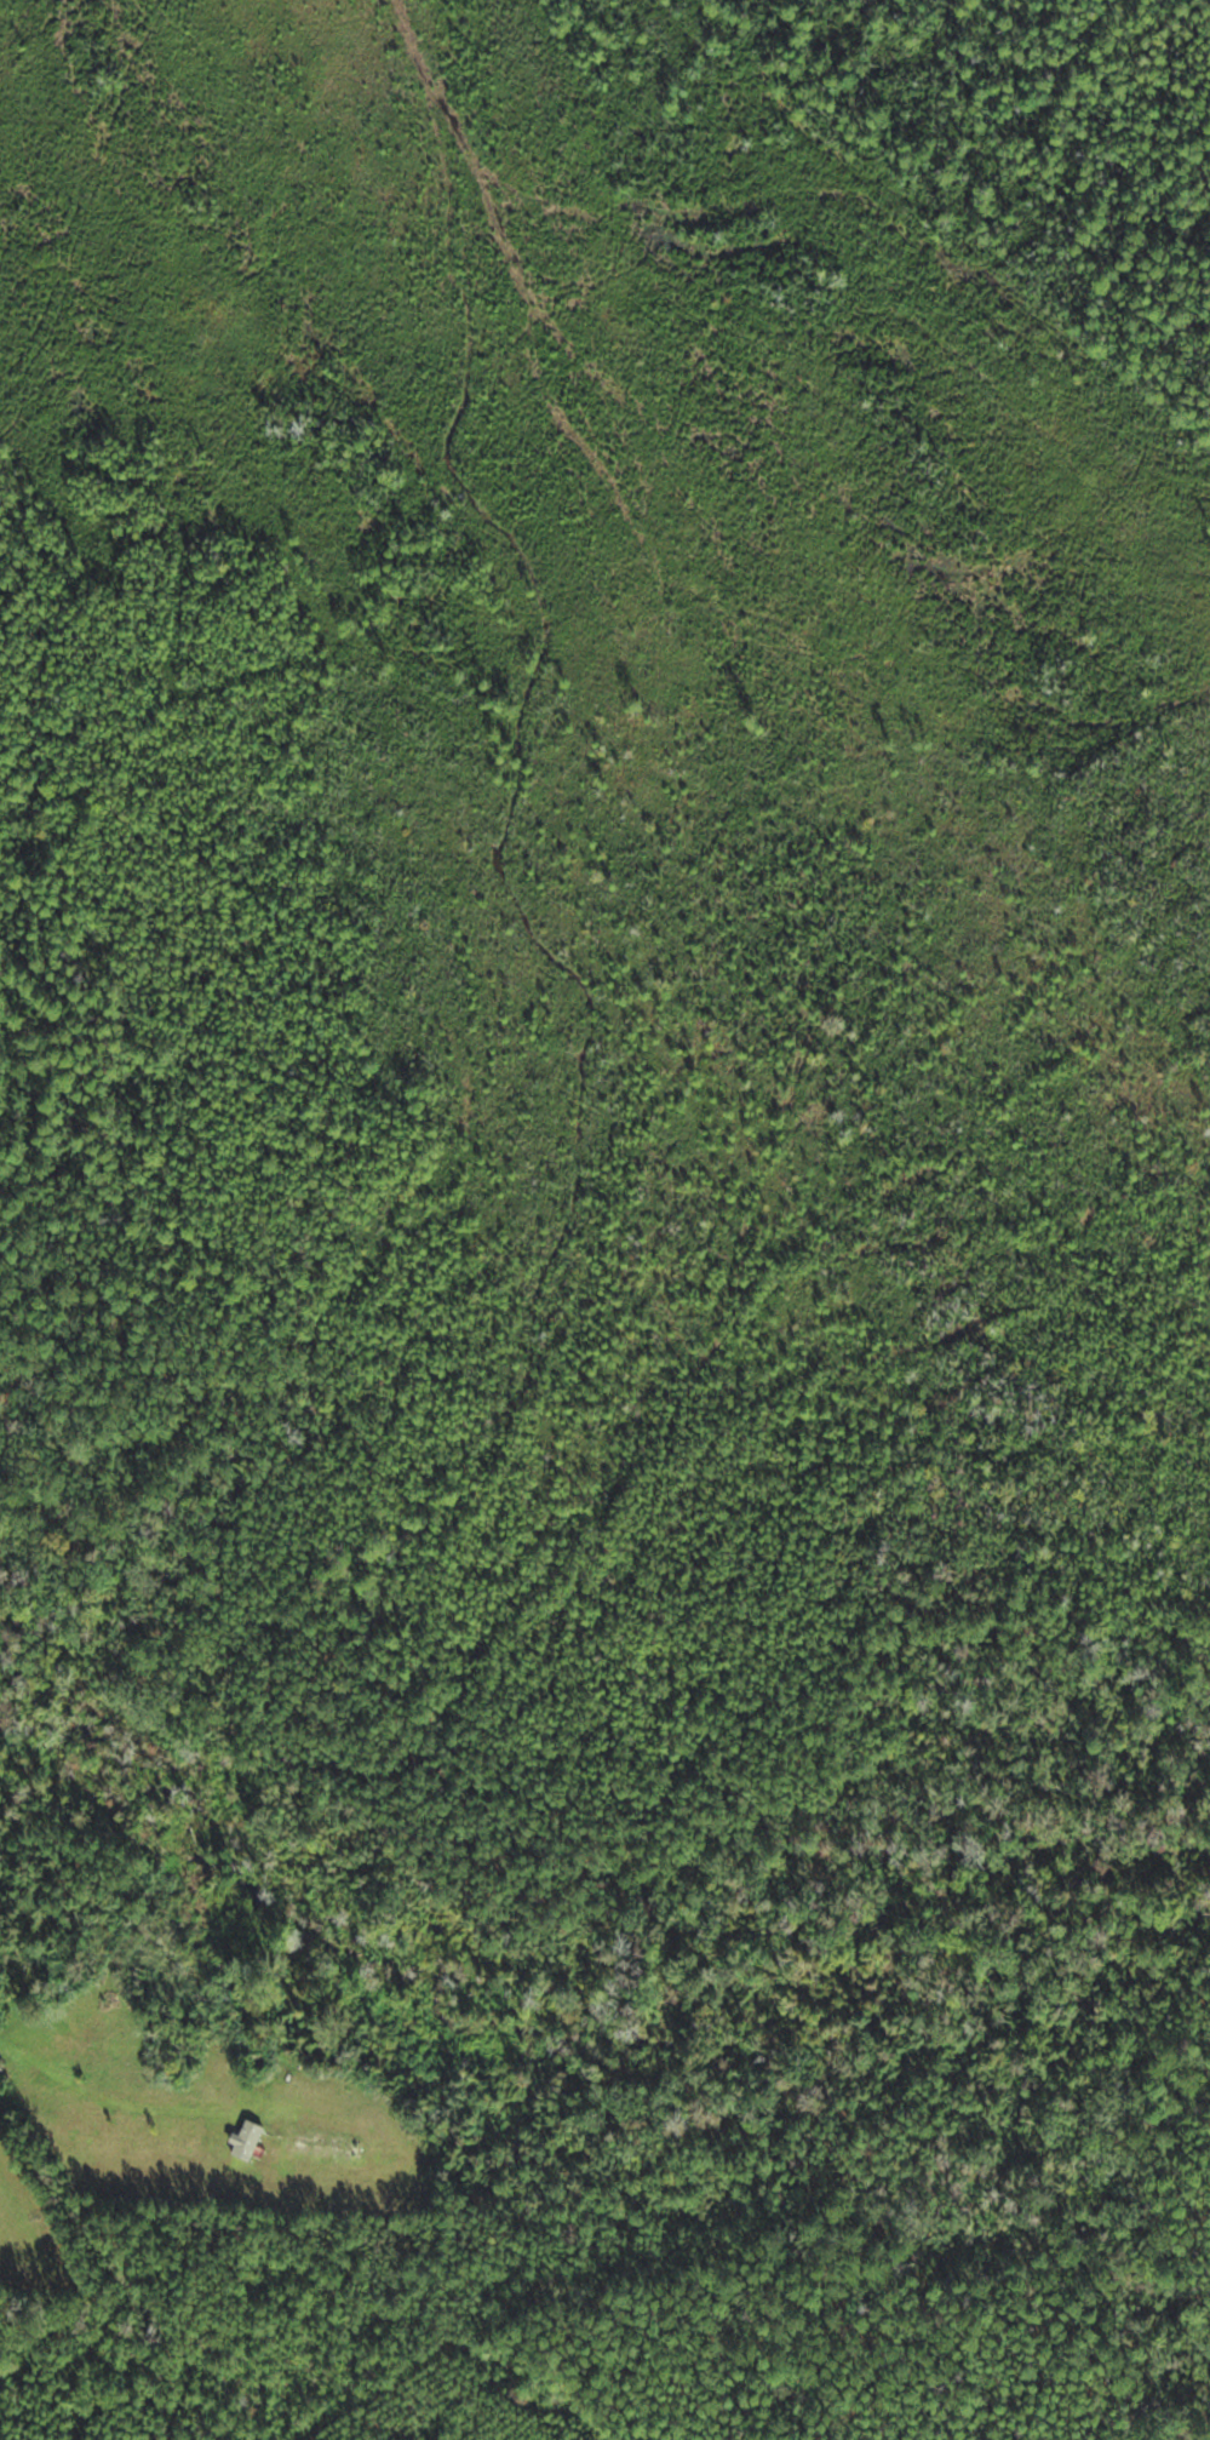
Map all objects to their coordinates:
building: (253, 2140)

